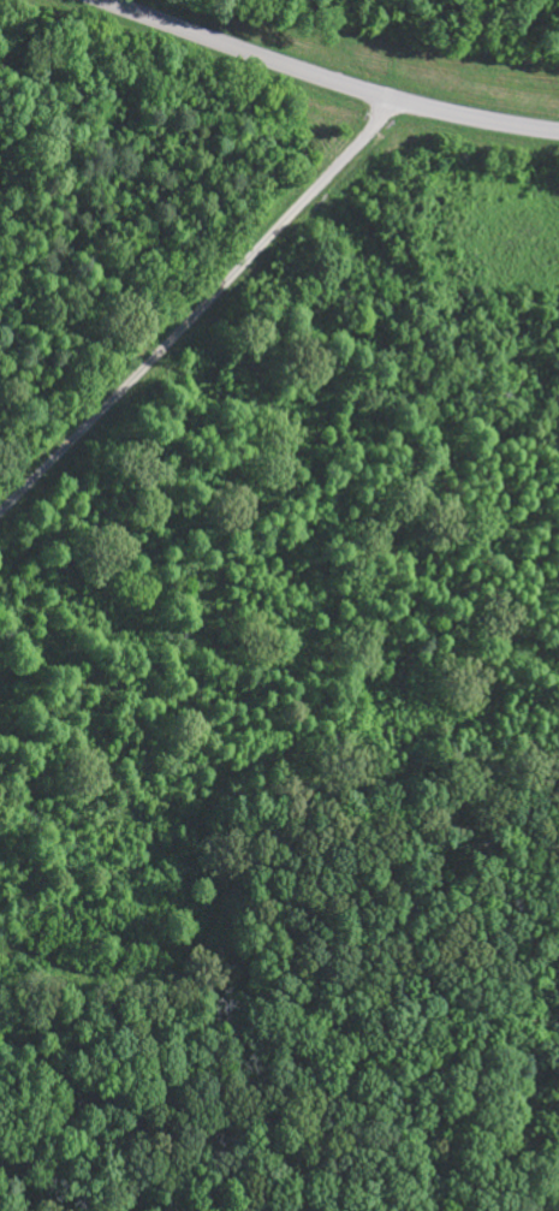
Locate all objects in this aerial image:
road: (325, 79)
road: (141, 230)

